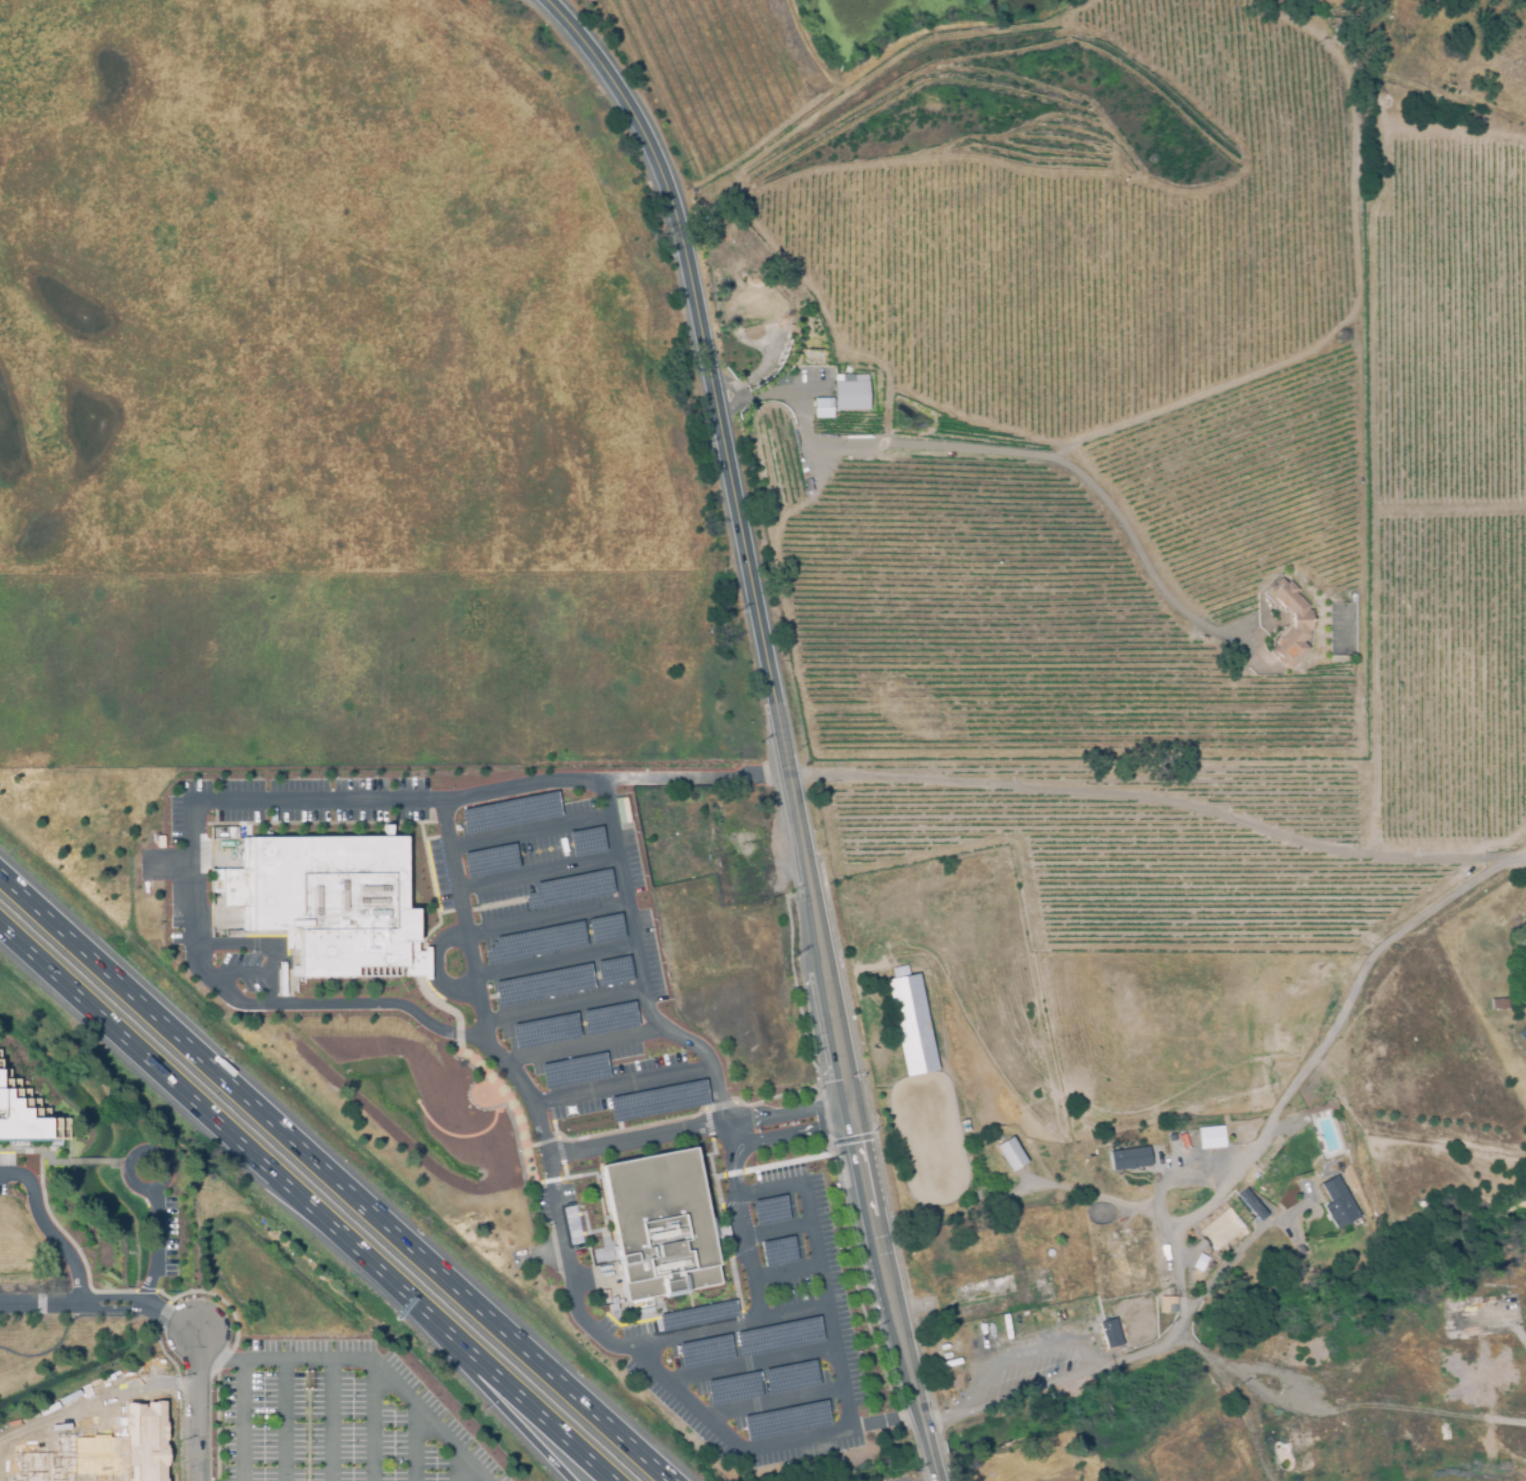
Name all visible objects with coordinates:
road: (723, 385)
building: (844, 395)
road: (1182, 402)
road: (728, 406)
road: (1013, 453)
road: (743, 533)
building: (1292, 625)
road: (662, 630)
road: (1152, 798)
building: (622, 809)
building: (509, 812)
road: (528, 832)
building: (586, 841)
road: (1515, 857)
building: (489, 859)
road: (536, 876)
building: (567, 890)
building: (324, 904)
road: (460, 915)
road: (545, 921)
building: (605, 928)
building: (534, 942)
road: (553, 961)
building: (613, 970)
road: (640, 974)
building: (543, 984)
building: (1499, 1002)
road: (297, 1004)
road: (563, 1009)
road: (93, 1012)
building: (608, 1018)
building: (910, 1021)
building: (544, 1030)
road: (467, 1031)
road: (579, 1046)
building: (573, 1070)
road: (618, 1087)
building: (657, 1100)
road: (858, 1113)
road: (1280, 1113)
building: (26, 1115)
road: (790, 1116)
road: (794, 1136)
building: (1210, 1137)
road: (726, 1140)
road: (824, 1143)
road: (634, 1145)
building: (1010, 1153)
building: (1129, 1158)
road: (337, 1176)
road: (151, 1190)
road: (813, 1203)
building: (1252, 1203)
building: (1337, 1203)
building: (769, 1210)
road: (319, 1218)
building: (660, 1224)
building: (1218, 1227)
road: (777, 1228)
road: (48, 1231)
road: (737, 1235)
building: (777, 1251)
road: (786, 1272)
building: (1165, 1302)
road: (896, 1303)
building: (696, 1315)
road: (174, 1320)
road: (837, 1327)
building: (1109, 1333)
building: (778, 1336)
road: (688, 1337)
road: (53, 1348)
building: (704, 1351)
road: (370, 1361)
road: (1224, 1365)
road: (750, 1366)
building: (790, 1376)
building: (732, 1388)
road: (775, 1405)
road: (515, 1409)
road: (530, 1409)
parking lot: (341, 1416)
road: (237, 1421)
road: (277, 1421)
road: (330, 1421)
road: (373, 1421)
building: (784, 1421)
road: (412, 1441)
building: (125, 1448)
building: (44, 1460)
road: (455, 1464)

